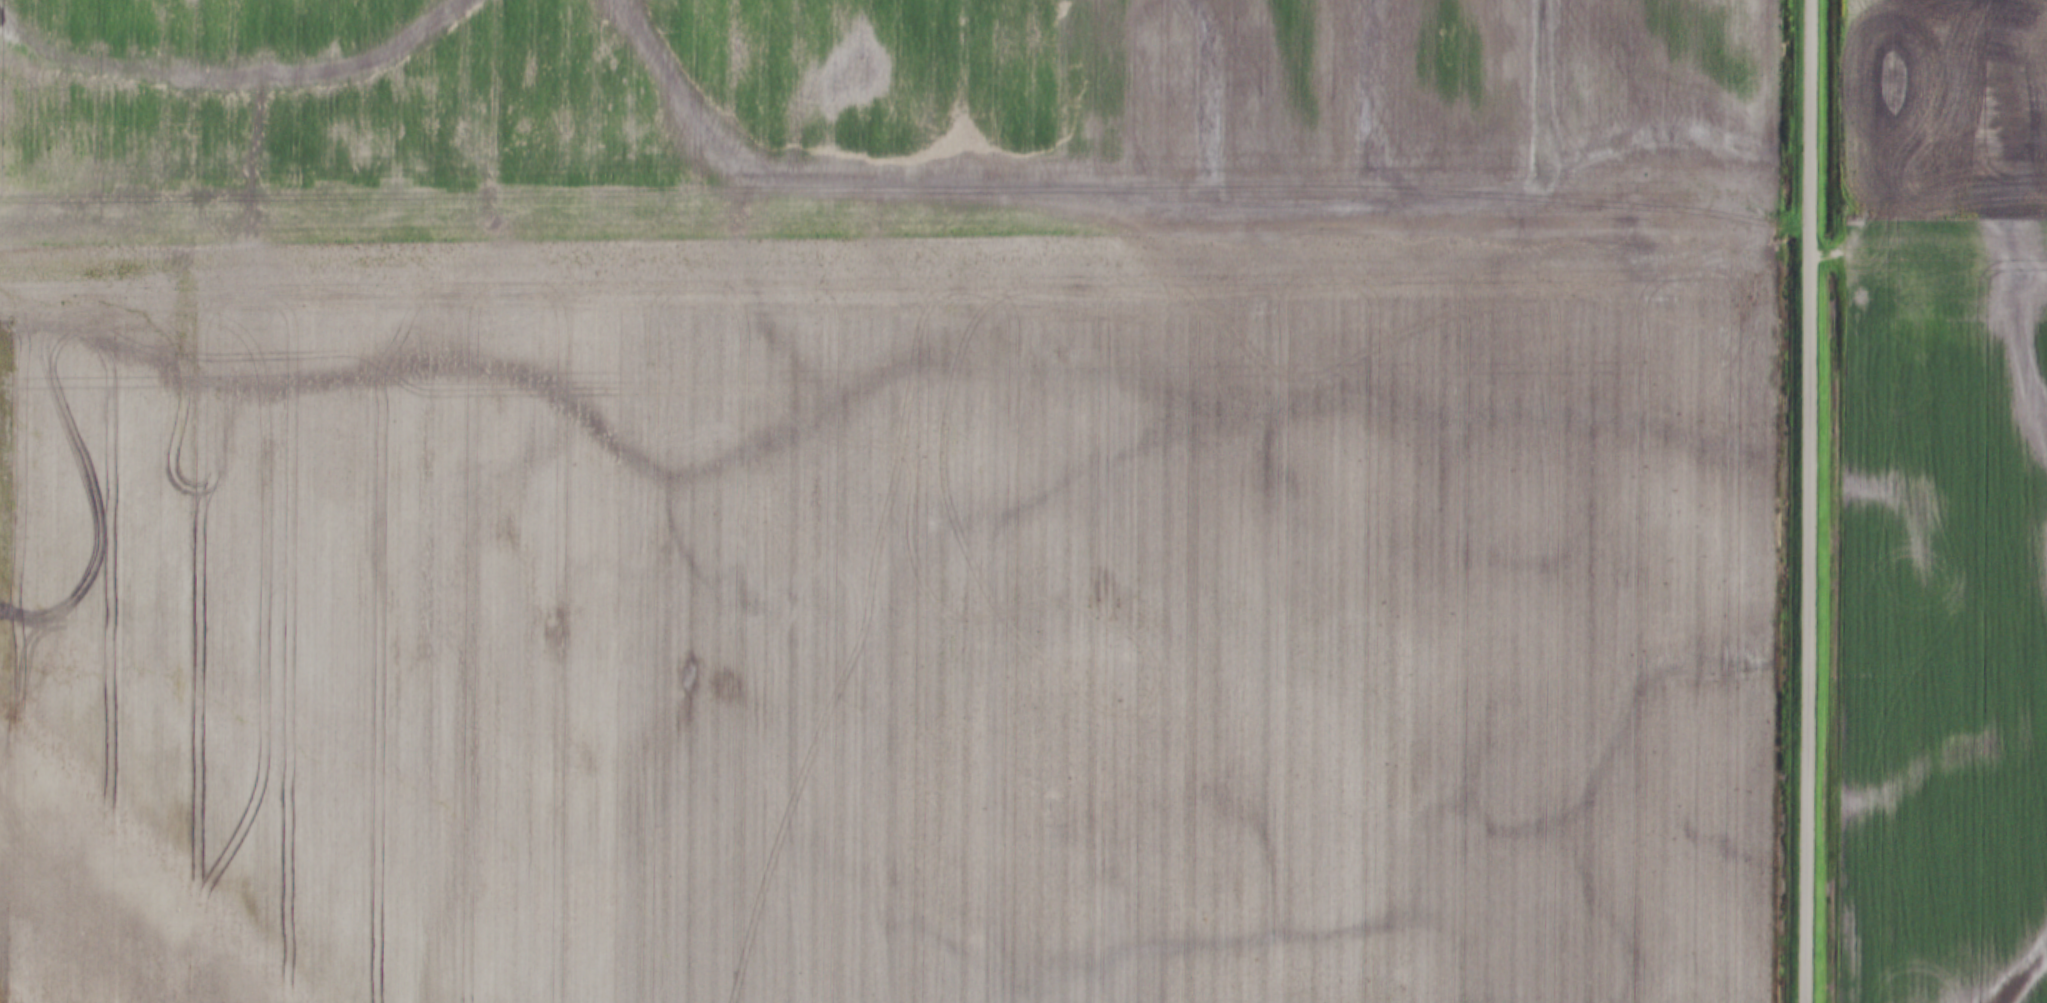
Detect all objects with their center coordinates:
road: (1811, 501)

